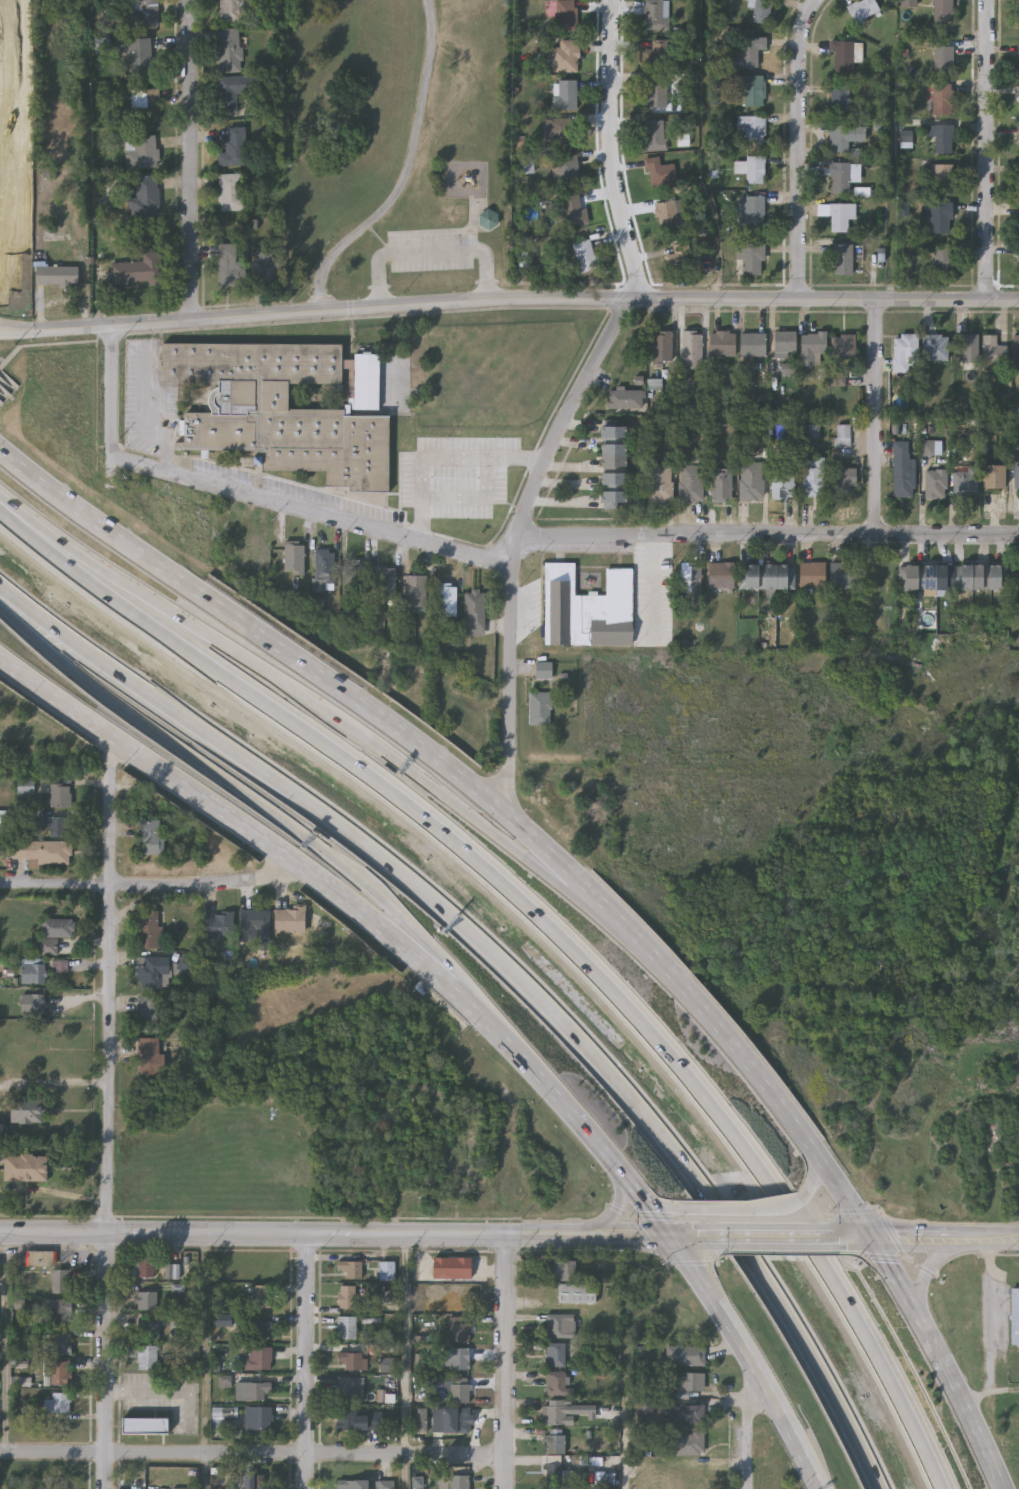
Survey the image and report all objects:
building: (861, 10)
building: (1018, 10)
building: (230, 11)
building: (942, 11)
building: (760, 12)
building: (140, 15)
building: (564, 15)
building: (656, 16)
building: (228, 49)
building: (749, 52)
building: (138, 55)
building: (565, 55)
building: (657, 57)
building: (844, 57)
building: (943, 60)
building: (229, 90)
building: (751, 90)
building: (654, 93)
building: (564, 94)
building: (840, 100)
building: (942, 100)
building: (144, 104)
building: (751, 130)
building: (562, 132)
building: (654, 137)
building: (844, 138)
building: (943, 140)
park: (397, 145)
building: (233, 147)
road: (800, 147)
building: (140, 150)
road: (988, 150)
road: (191, 160)
building: (568, 170)
building: (751, 170)
road: (407, 172)
building: (659, 174)
building: (839, 179)
building: (942, 180)
building: (230, 191)
building: (145, 196)
building: (571, 211)
building: (750, 212)
building: (667, 218)
building: (487, 219)
building: (840, 219)
building: (941, 220)
road: (456, 250)
building: (584, 255)
building: (680, 258)
building: (750, 260)
building: (842, 261)
building: (942, 264)
building: (228, 266)
building: (137, 270)
building: (267, 271)
building: (55, 274)
road: (379, 283)
road: (508, 302)
building: (786, 343)
building: (722, 344)
building: (753, 344)
road: (54, 345)
building: (813, 345)
building: (844, 346)
building: (661, 347)
building: (936, 347)
building: (969, 347)
building: (1016, 348)
building: (994, 349)
building: (692, 350)
building: (905, 352)
road: (15, 387)
road: (114, 394)
road: (6, 395)
road: (572, 399)
building: (625, 399)
building: (286, 408)
road: (874, 417)
road: (149, 419)
building: (429, 426)
building: (843, 435)
road: (441, 457)
building: (612, 466)
building: (903, 470)
building: (814, 476)
building: (994, 476)
building: (1016, 477)
building: (842, 478)
building: (783, 479)
building: (966, 480)
building: (752, 481)
building: (661, 483)
building: (691, 483)
building: (937, 483)
building: (722, 485)
road: (314, 516)
road: (768, 535)
building: (293, 559)
building: (322, 569)
building: (721, 575)
building: (811, 575)
building: (842, 575)
building: (767, 576)
building: (952, 577)
building: (1014, 577)
building: (690, 579)
building: (354, 581)
building: (384, 584)
road: (654, 589)
building: (415, 591)
building: (445, 600)
building: (474, 609)
building: (586, 609)
building: (543, 670)
road: (316, 705)
building: (539, 709)
building: (24, 785)
building: (59, 794)
road: (481, 796)
road: (260, 803)
building: (56, 825)
building: (150, 836)
building: (42, 851)
road: (149, 884)
building: (288, 920)
building: (217, 924)
building: (253, 924)
building: (57, 927)
building: (147, 928)
road: (550, 928)
building: (32, 970)
road: (510, 971)
building: (152, 972)
building: (33, 1002)
road: (474, 1011)
building: (149, 1014)
building: (149, 1054)
building: (27, 1108)
road: (109, 1113)
building: (24, 1167)
road: (811, 1168)
road: (667, 1204)
road: (749, 1207)
road: (618, 1210)
road: (358, 1234)
traffic signals: (674, 1236)
road: (774, 1238)
road: (853, 1238)
traffic signals: (874, 1238)
road: (946, 1238)
road: (935, 1260)
building: (146, 1267)
building: (451, 1268)
building: (349, 1269)
building: (563, 1270)
building: (173, 1271)
building: (386, 1271)
building: (61, 1281)
building: (576, 1293)
building: (262, 1297)
building: (345, 1297)
building: (147, 1300)
building: (455, 1301)
building: (61, 1310)
road: (992, 1314)
building: (1014, 1317)
building: (222, 1319)
building: (559, 1326)
building: (346, 1328)
building: (149, 1330)
building: (259, 1330)
building: (458, 1332)
building: (59, 1342)
road: (207, 1343)
road: (9, 1344)
road: (405, 1344)
building: (555, 1354)
building: (682, 1356)
building: (148, 1357)
building: (257, 1358)
building: (458, 1359)
road: (305, 1361)
building: (353, 1361)
road: (506, 1361)
road: (942, 1362)
building: (61, 1372)
building: (685, 1381)
building: (555, 1384)
building: (257, 1388)
building: (349, 1388)
building: (459, 1393)
building: (58, 1403)
building: (556, 1411)
building: (687, 1414)
building: (257, 1419)
building: (360, 1420)
building: (459, 1421)
road: (749, 1424)
building: (144, 1426)
building: (684, 1443)
road: (627, 1447)
road: (252, 1455)
road: (205, 1471)
road: (406, 1472)
building: (671, 1474)
building: (254, 1481)
building: (459, 1482)
building: (351, 1484)
building: (385, 1485)
building: (58, 1488)

